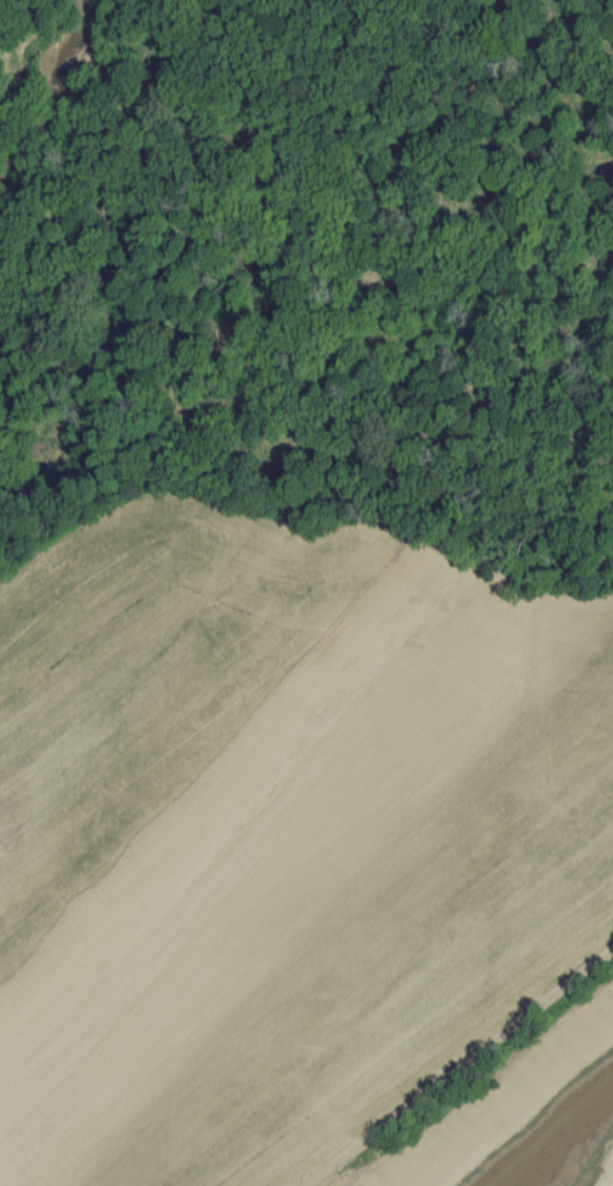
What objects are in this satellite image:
road: (547, 993)
road: (395, 1116)

